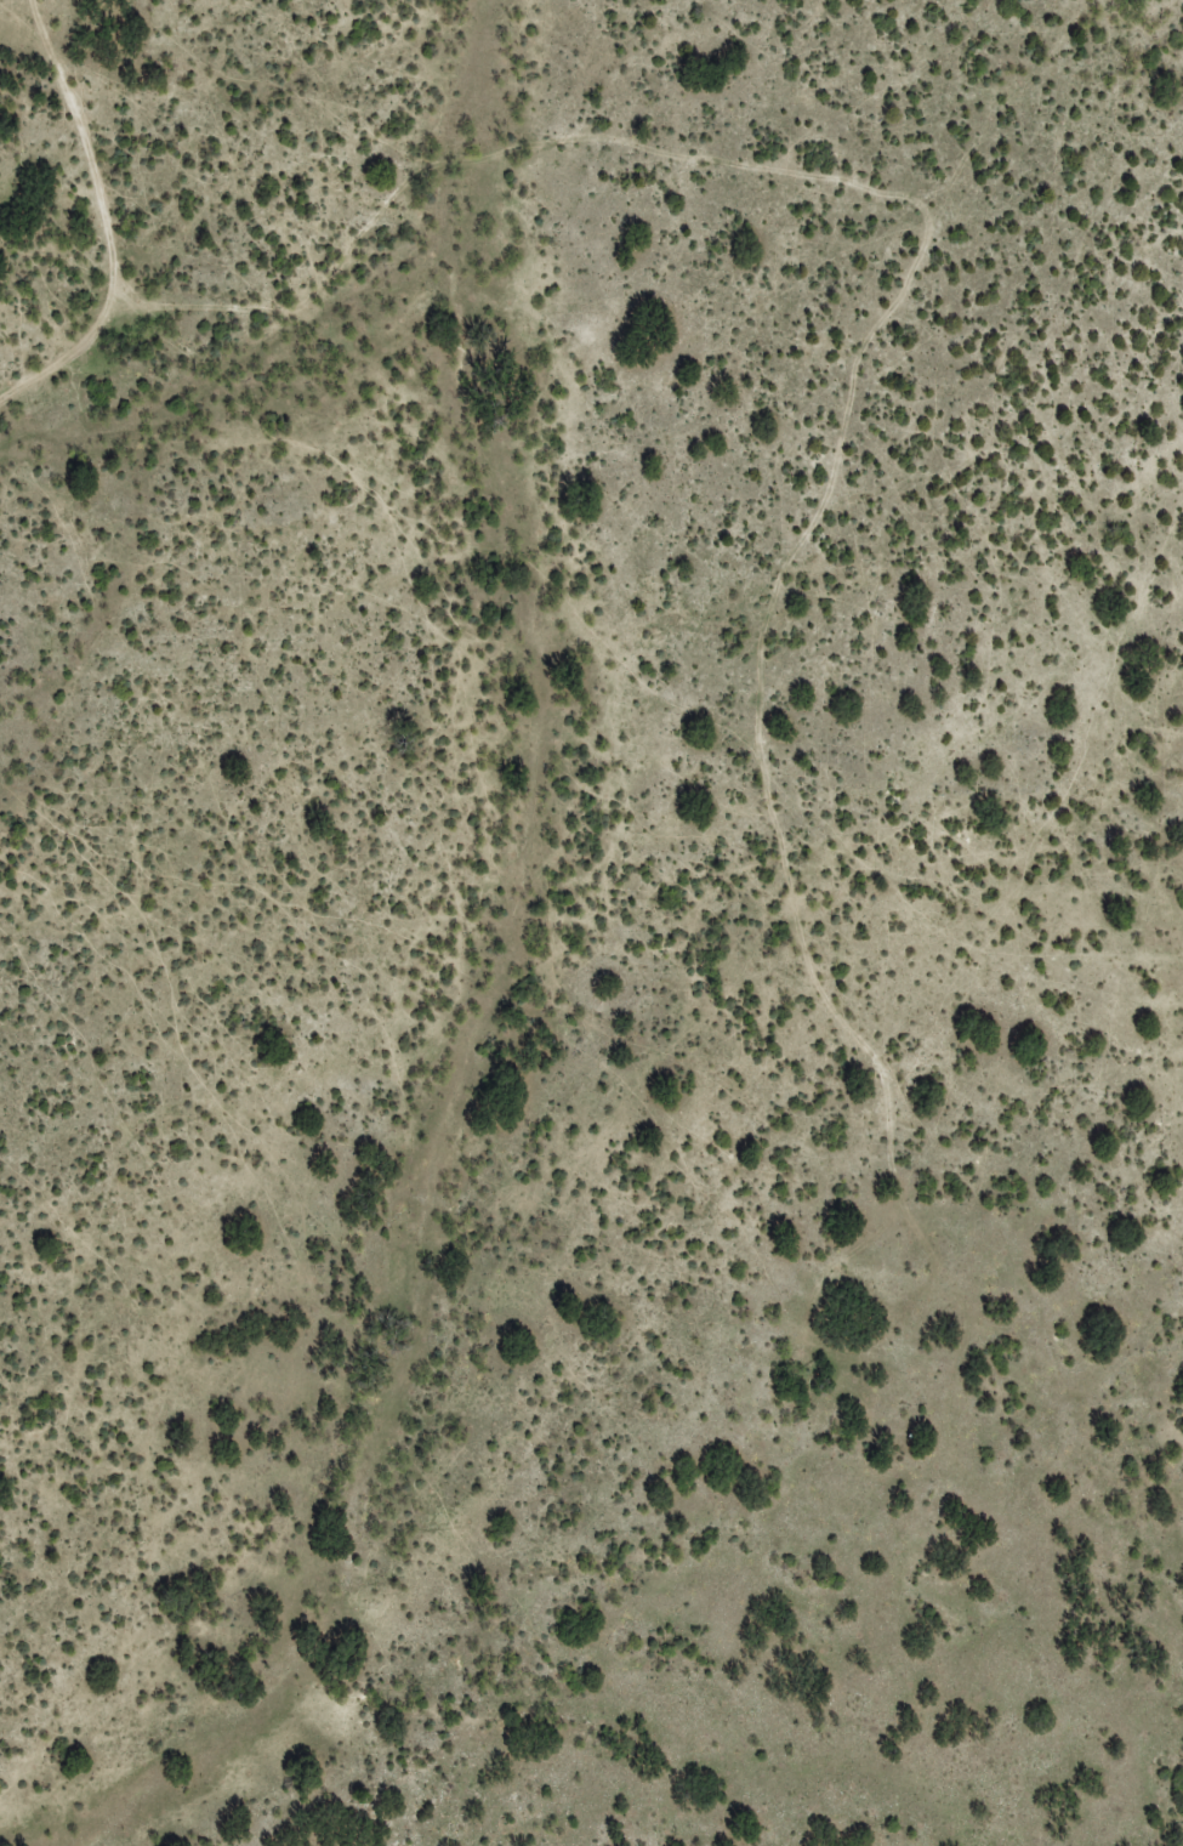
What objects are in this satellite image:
road: (573, 136)
road: (35, 177)

